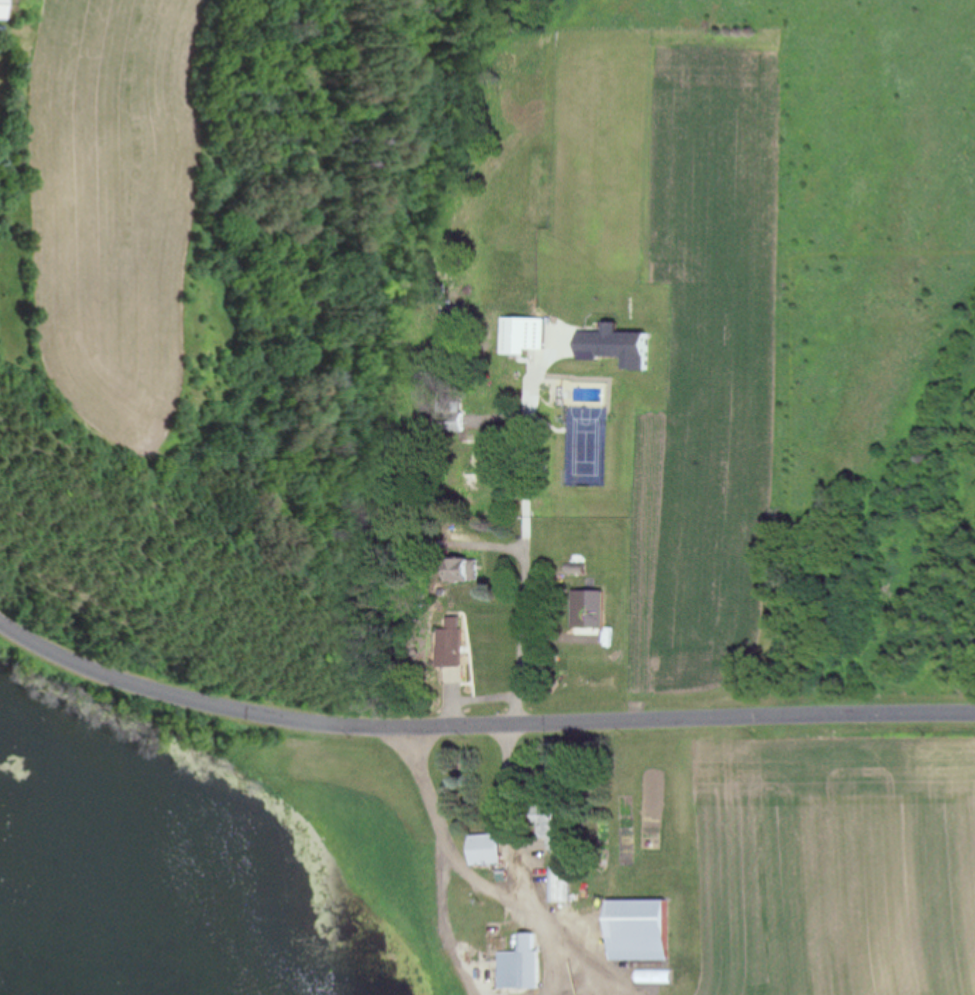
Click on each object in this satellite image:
building: (1, 9)
building: (522, 335)
building: (449, 416)
building: (469, 466)
building: (461, 570)
road: (529, 571)
building: (570, 615)
building: (450, 643)
road: (476, 721)
building: (553, 825)
road: (447, 837)
building: (489, 850)
road: (526, 863)
building: (561, 885)
road: (446, 920)
building: (639, 930)
building: (523, 965)
road: (598, 966)

